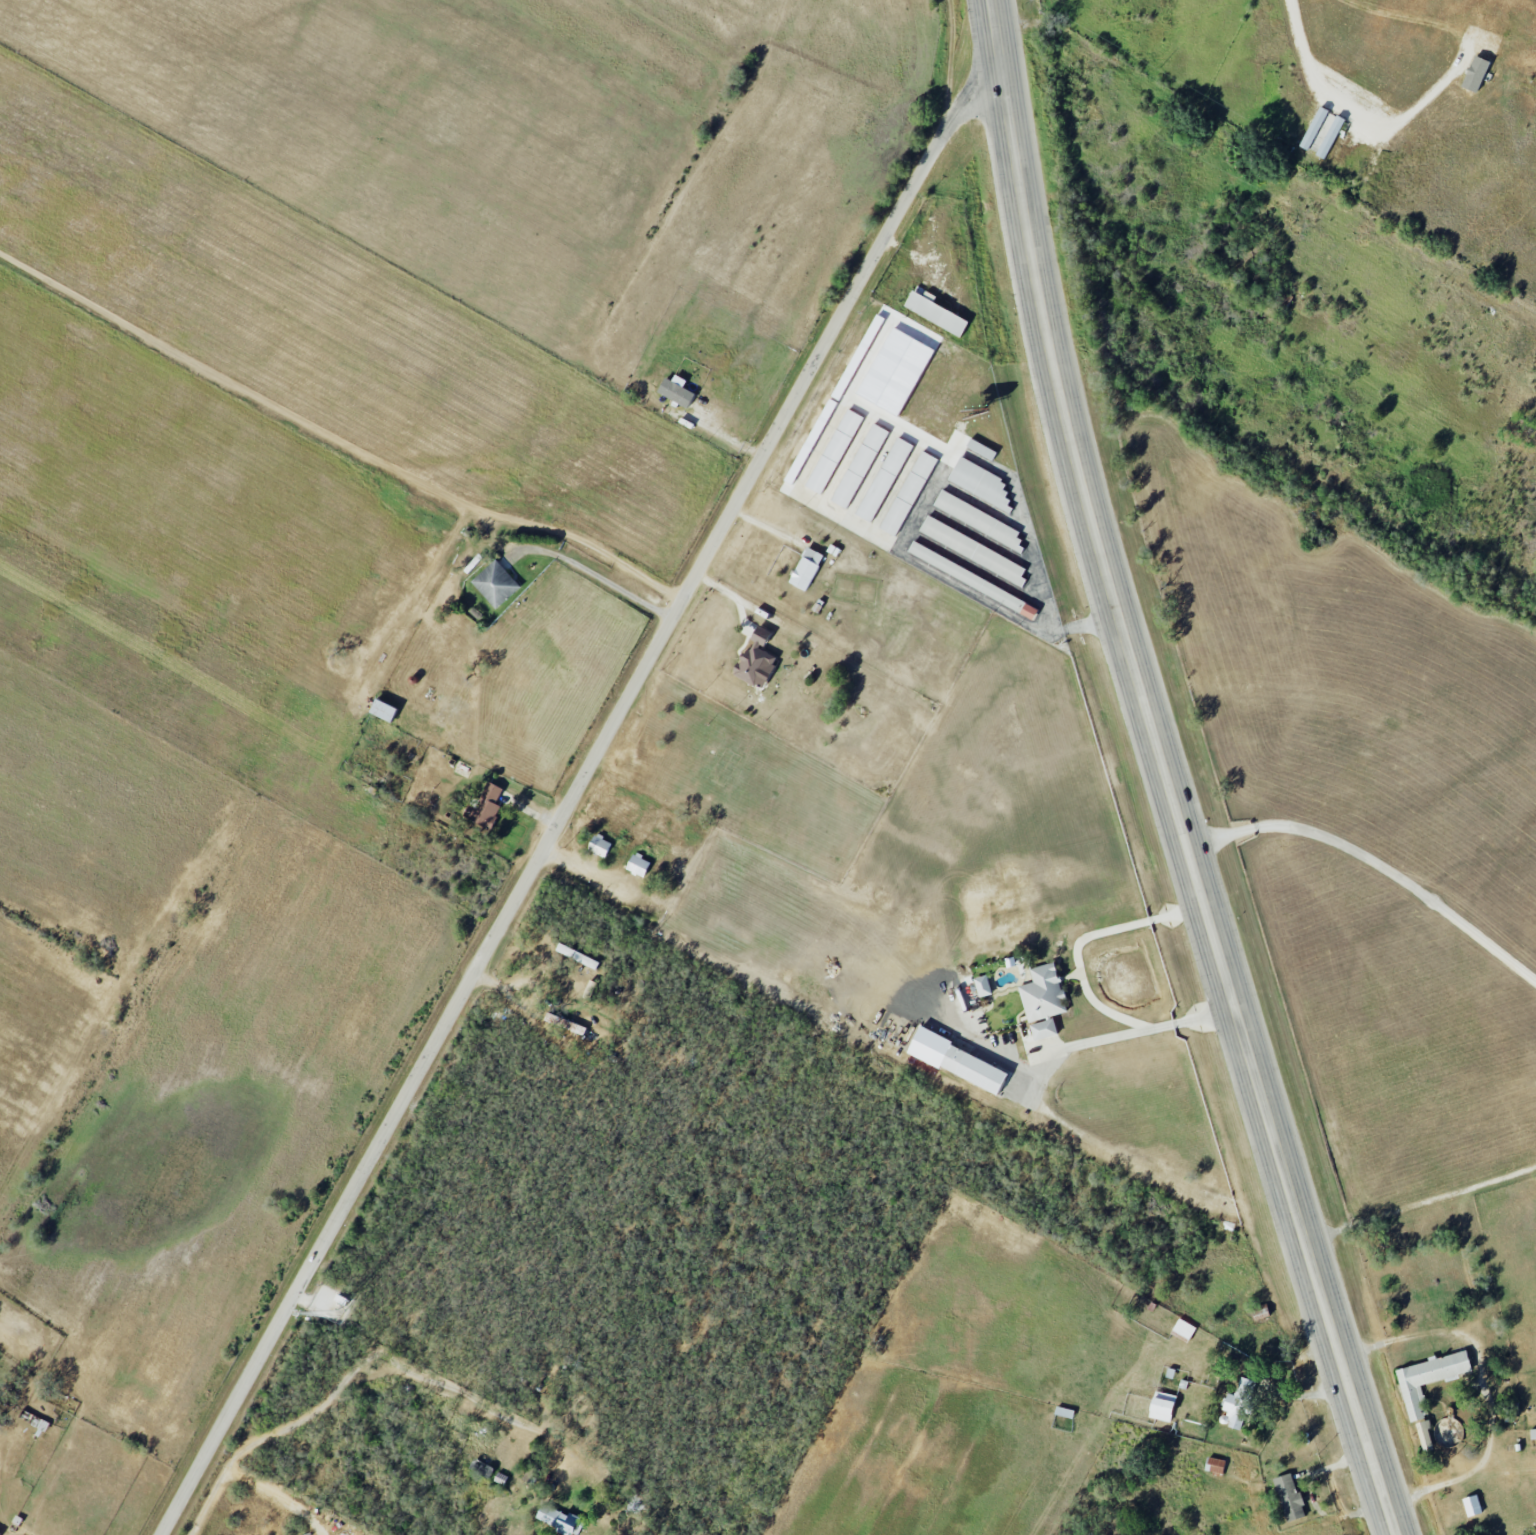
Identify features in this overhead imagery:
building: (1474, 74)
road: (1418, 101)
building: (1317, 129)
building: (1329, 137)
building: (1370, 164)
building: (933, 312)
building: (894, 371)
building: (846, 380)
building: (675, 392)
road: (337, 431)
road: (721, 434)
road: (822, 439)
building: (980, 449)
building: (833, 451)
building: (859, 465)
building: (883, 479)
building: (979, 483)
building: (907, 493)
road: (922, 501)
building: (978, 520)
building: (972, 550)
road: (593, 568)
building: (805, 569)
building: (495, 584)
building: (754, 658)
road: (1173, 774)
road: (570, 798)
building: (484, 806)
building: (598, 845)
road: (1379, 862)
building: (638, 864)
road: (1084, 983)
building: (982, 985)
building: (1042, 994)
building: (1043, 1029)
road: (1095, 1042)
building: (957, 1061)
road: (1427, 1201)
building: (1183, 1329)
road: (364, 1358)
building: (1427, 1379)
road: (1488, 1384)
building: (1239, 1404)
building: (1161, 1406)
building: (1424, 1433)
building: (1214, 1465)
road: (1507, 1466)
road: (279, 1495)
building: (1288, 1497)
building: (1471, 1505)
building: (558, 1520)

